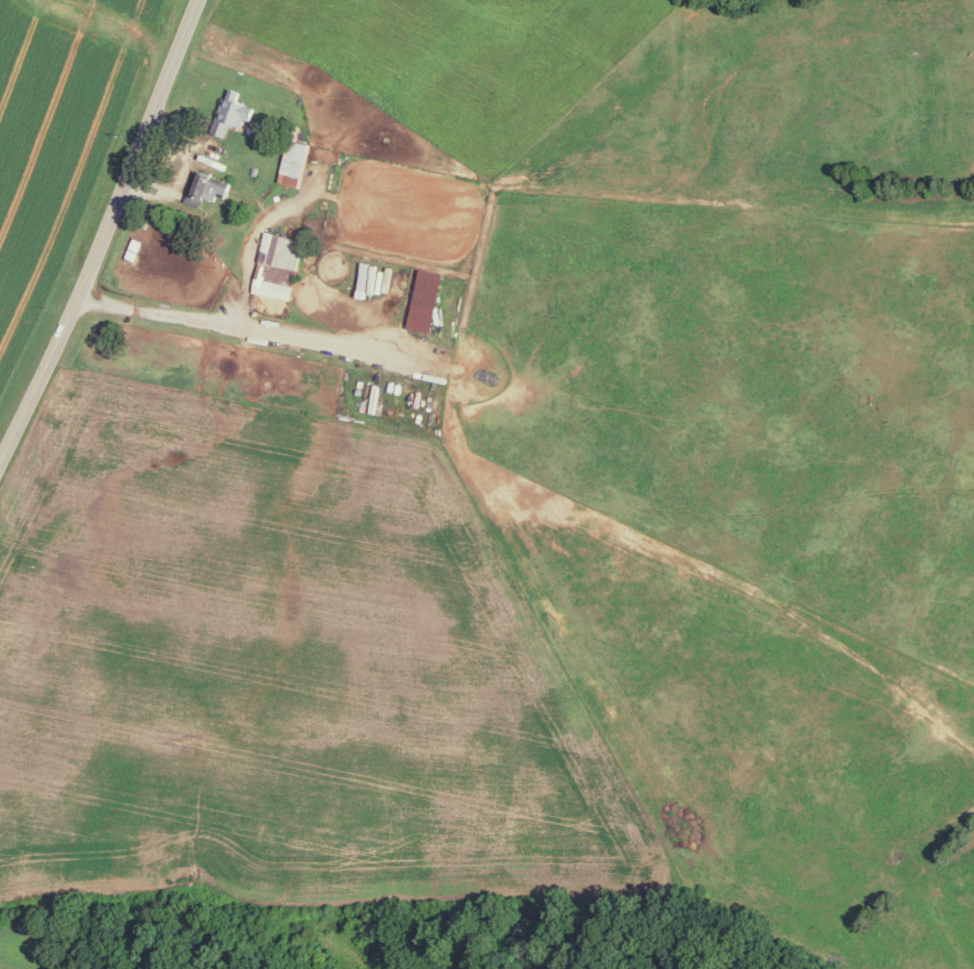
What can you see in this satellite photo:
building: (233, 112)
building: (297, 162)
building: (211, 185)
road: (257, 227)
road: (104, 232)
building: (280, 264)
building: (429, 299)
road: (247, 328)

